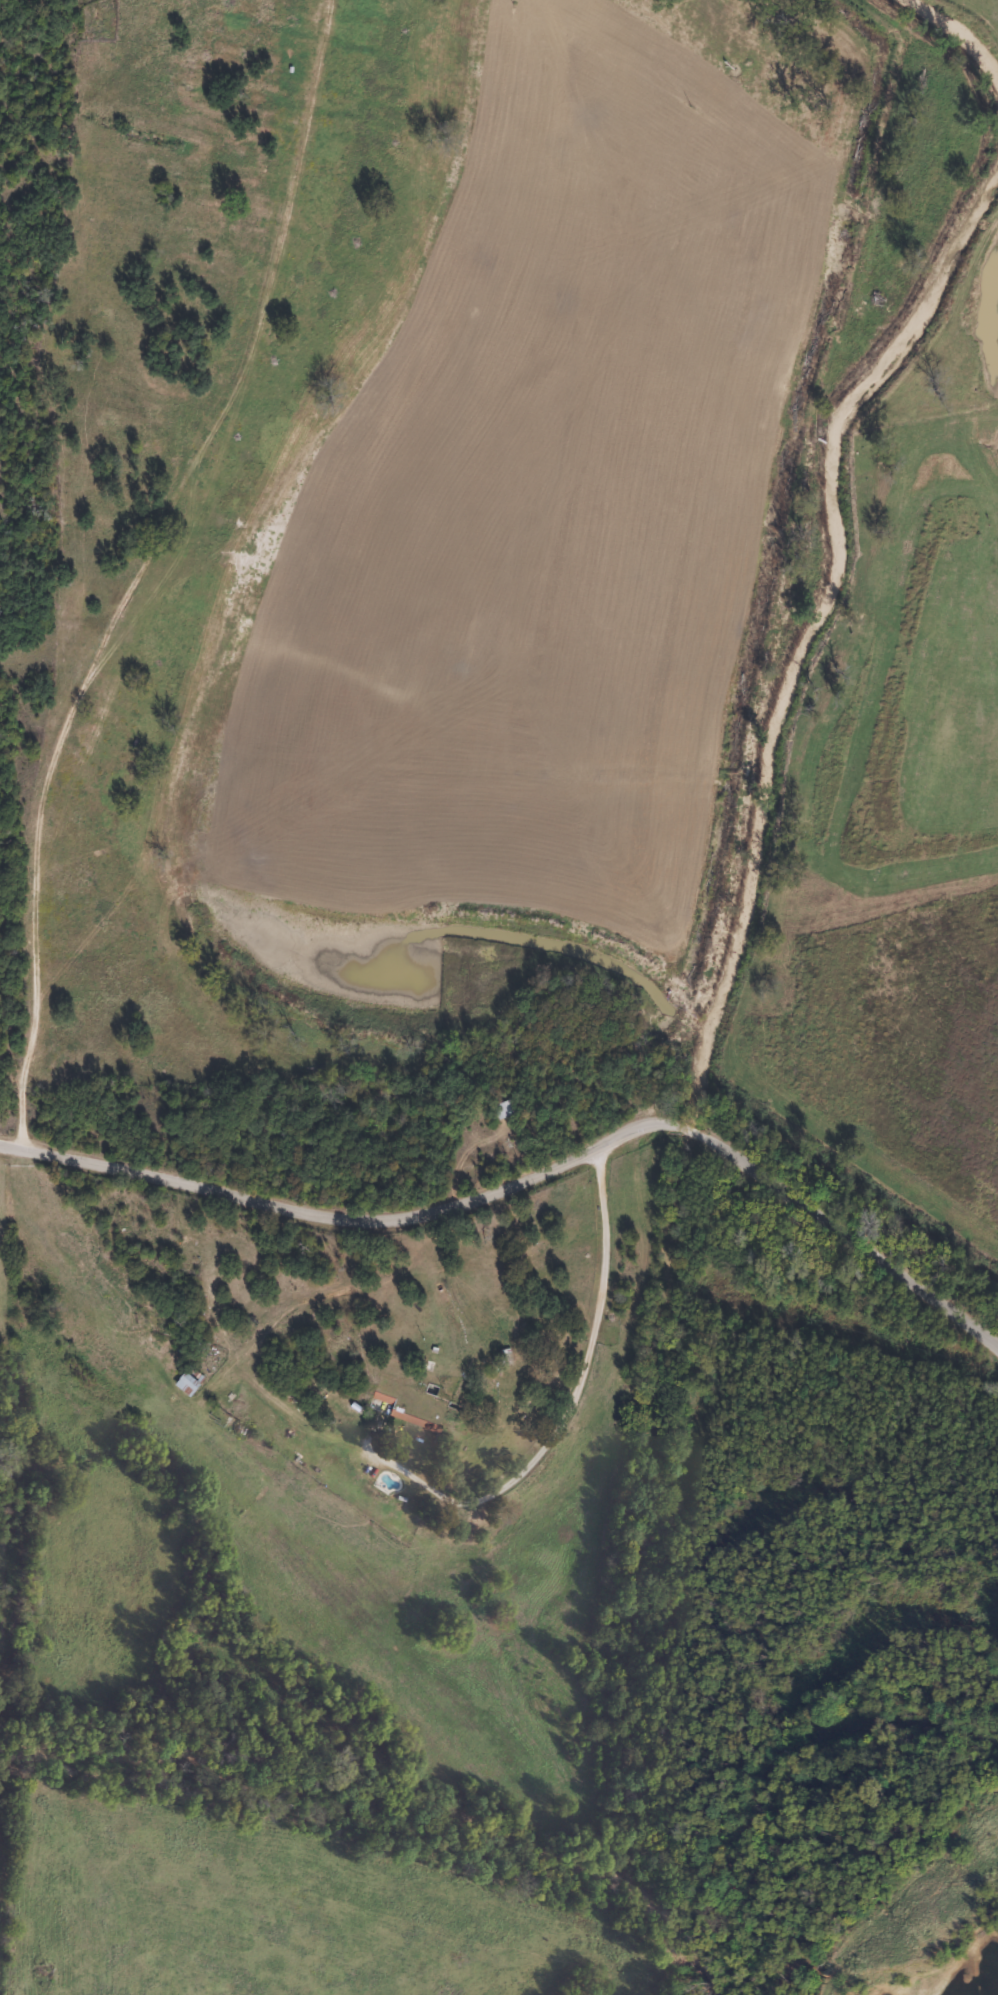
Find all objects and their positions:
road: (89, 574)
road: (535, 1186)
building: (186, 1380)
road: (571, 1399)
building: (380, 1403)

